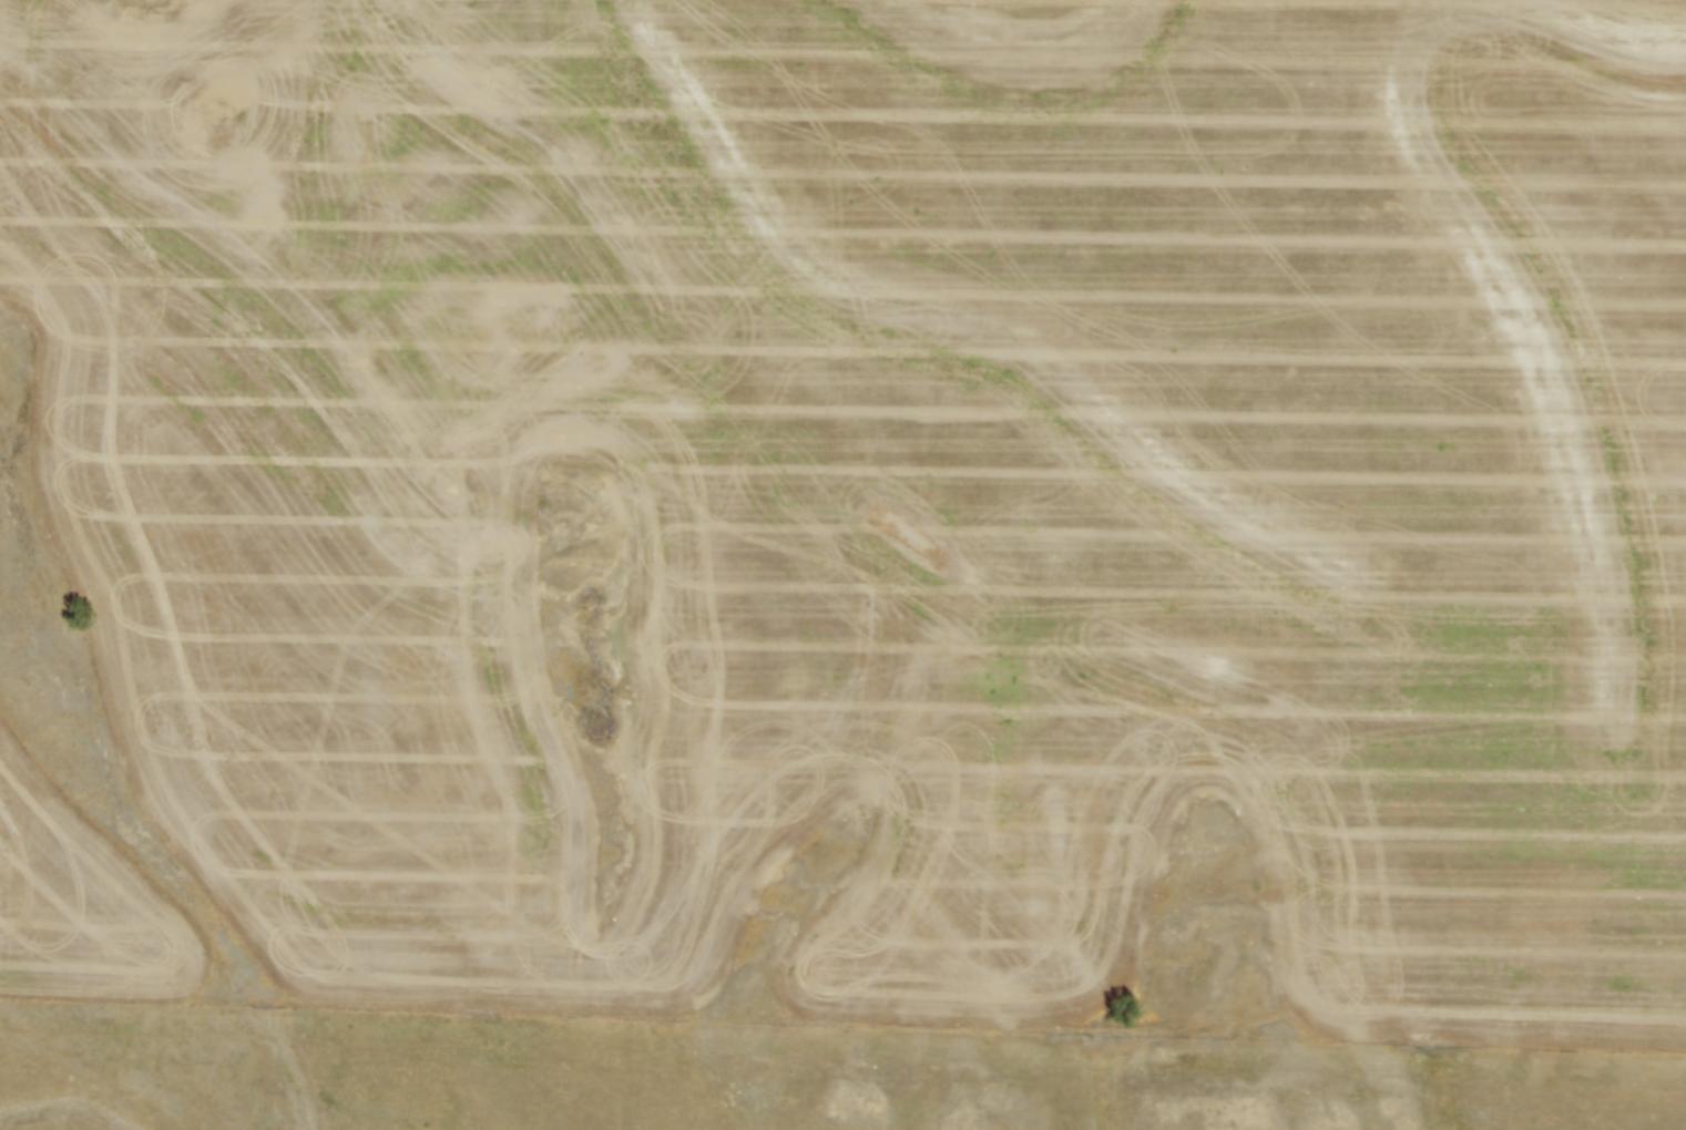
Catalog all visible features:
crop: (885, 484)
crop: (80, 901)

